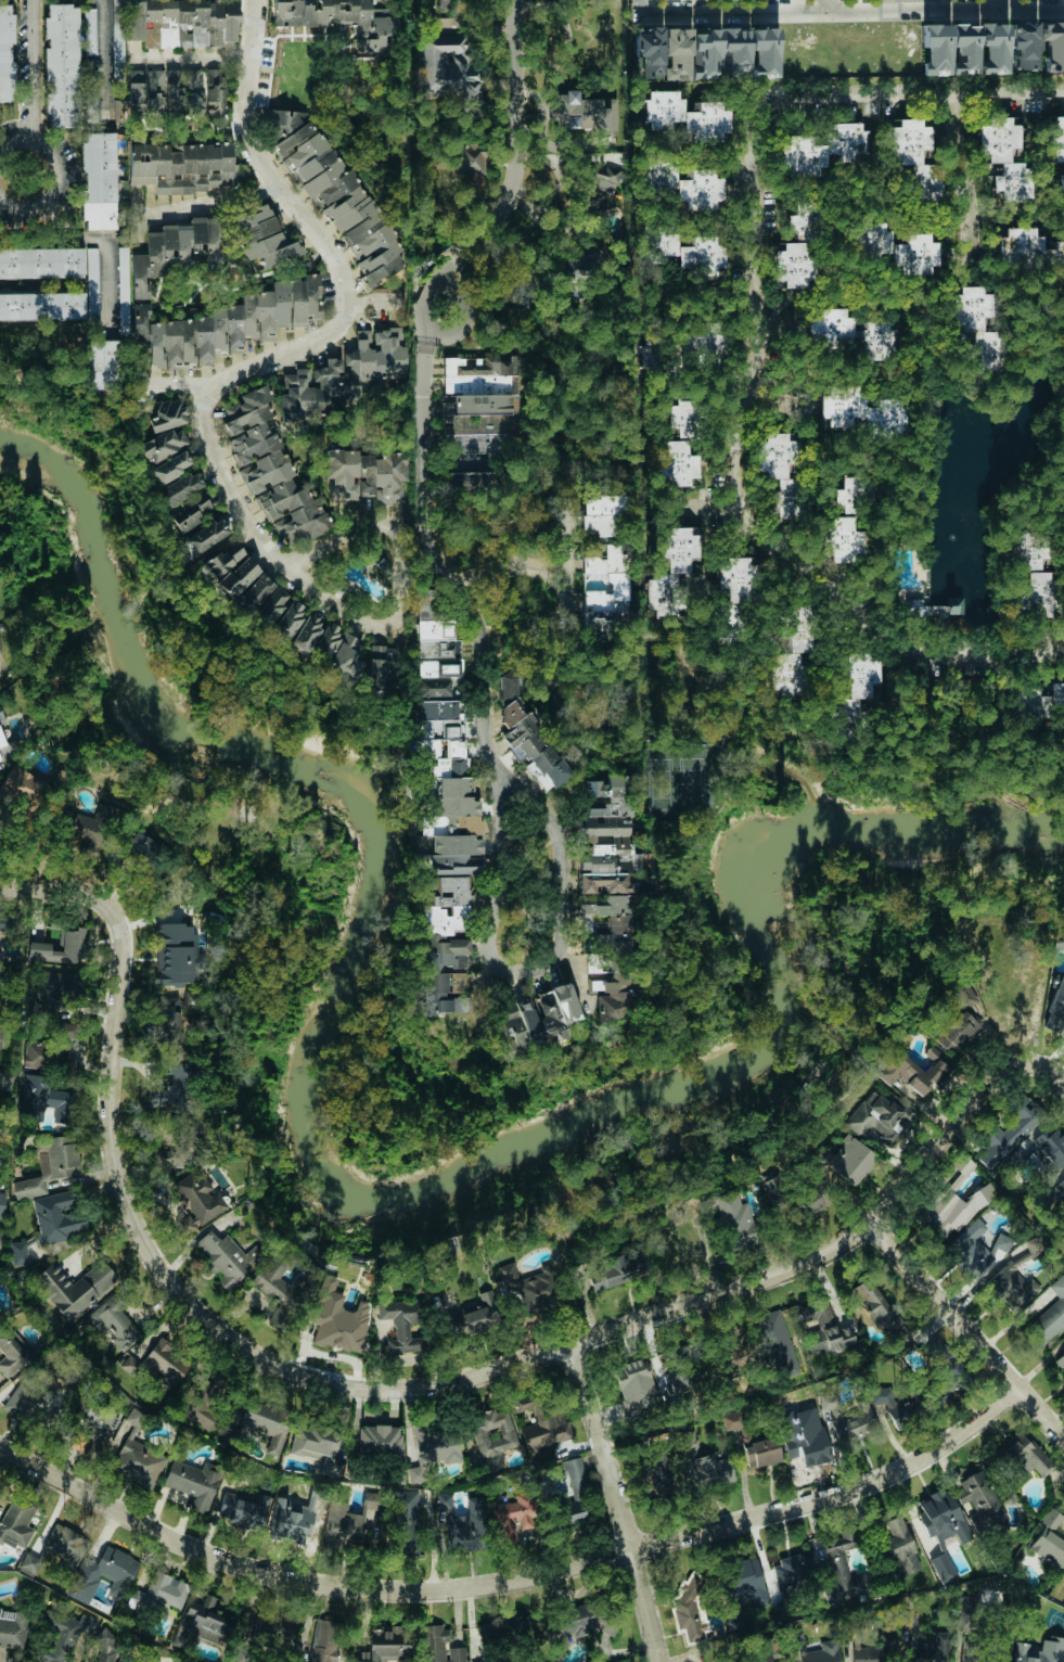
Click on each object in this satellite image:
building: (445, 3)
road: (1001, 4)
road: (887, 5)
road: (937, 5)
road: (830, 7)
road: (947, 10)
road: (729, 14)
building: (342, 21)
building: (182, 22)
building: (89, 31)
building: (117, 38)
building: (1023, 44)
building: (965, 49)
building: (706, 52)
building: (5, 53)
road: (104, 61)
road: (162, 61)
building: (61, 65)
building: (446, 69)
road: (35, 71)
building: (155, 91)
building: (136, 92)
building: (195, 92)
building: (581, 113)
building: (689, 116)
road: (516, 123)
building: (1055, 138)
building: (847, 140)
building: (803, 156)
building: (1008, 156)
building: (918, 159)
road: (758, 163)
building: (471, 165)
building: (182, 166)
road: (60, 176)
building: (608, 177)
building: (98, 180)
building: (1061, 182)
building: (684, 183)
building: (331, 184)
road: (970, 186)
building: (592, 204)
road: (203, 205)
road: (137, 220)
building: (262, 235)
road: (106, 244)
building: (1024, 244)
building: (802, 246)
building: (898, 247)
road: (467, 248)
building: (176, 251)
building: (682, 251)
building: (1057, 259)
building: (41, 261)
building: (381, 264)
road: (336, 270)
building: (91, 282)
road: (444, 286)
building: (123, 290)
road: (371, 303)
building: (41, 306)
building: (232, 324)
building: (830, 328)
building: (977, 328)
building: (706, 341)
building: (876, 341)
building: (658, 355)
building: (104, 365)
building: (343, 373)
building: (843, 406)
building: (167, 414)
building: (683, 440)
building: (163, 444)
building: (170, 466)
building: (269, 469)
building: (366, 474)
building: (783, 475)
building: (463, 480)
road: (219, 485)
building: (180, 488)
building: (857, 496)
building: (188, 512)
building: (606, 513)
building: (203, 536)
building: (843, 539)
building: (230, 568)
road: (569, 568)
building: (672, 571)
road: (540, 573)
road: (489, 574)
building: (1036, 574)
building: (605, 584)
road: (461, 586)
building: (735, 597)
building: (261, 601)
building: (925, 608)
road: (337, 609)
road: (859, 609)
building: (286, 621)
building: (305, 632)
building: (434, 638)
building: (0, 649)
building: (795, 649)
building: (335, 653)
building: (381, 668)
building: (434, 688)
building: (853, 693)
building: (1036, 699)
building: (436, 708)
building: (528, 738)
building: (5, 740)
road: (492, 767)
building: (23, 790)
building: (92, 829)
building: (608, 836)
building: (141, 849)
building: (454, 854)
building: (607, 915)
building: (63, 946)
building: (447, 953)
building: (175, 954)
building: (458, 982)
building: (51, 990)
building: (433, 993)
building: (189, 1000)
building: (1054, 1007)
building: (538, 1017)
building: (166, 1018)
building: (957, 1031)
building: (0, 1037)
building: (51, 1051)
building: (914, 1071)
building: (171, 1088)
building: (47, 1096)
building: (880, 1120)
building: (1010, 1130)
building: (1049, 1147)
building: (850, 1159)
building: (769, 1184)
building: (1060, 1187)
river: (364, 1196)
building: (954, 1199)
building: (197, 1200)
building: (806, 1200)
building: (2, 1203)
building: (1063, 1215)
building: (56, 1216)
building: (734, 1219)
building: (0, 1240)
building: (1033, 1244)
building: (975, 1248)
building: (17, 1253)
building: (227, 1257)
building: (612, 1273)
building: (74, 1287)
building: (1013, 1288)
building: (279, 1290)
building: (268, 1309)
building: (879, 1311)
building: (478, 1312)
building: (1050, 1314)
building: (117, 1319)
building: (339, 1324)
building: (402, 1324)
road: (967, 1328)
building: (823, 1329)
building: (11, 1352)
building: (1060, 1361)
building: (163, 1368)
building: (634, 1385)
road: (401, 1389)
building: (201, 1396)
building: (30, 1399)
building: (894, 1403)
building: (848, 1418)
building: (256, 1427)
building: (544, 1430)
building: (493, 1434)
building: (379, 1440)
building: (752, 1442)
building: (433, 1444)
building: (808, 1445)
building: (317, 1446)
building: (1027, 1456)
building: (705, 1461)
building: (138, 1462)
building: (193, 1482)
building: (655, 1482)
building: (567, 1490)
building: (979, 1500)
road: (620, 1501)
building: (240, 1511)
building: (407, 1511)
building: (941, 1517)
building: (346, 1520)
building: (513, 1520)
building: (16, 1523)
building: (460, 1523)
building: (1050, 1540)
building: (63, 1543)
building: (900, 1548)
building: (29, 1564)
building: (943, 1568)
building: (842, 1569)
building: (793, 1571)
building: (104, 1574)
road: (516, 1578)
building: (749, 1581)
building: (164, 1591)
building: (691, 1608)
building: (967, 1613)
building: (586, 1620)
building: (202, 1623)
building: (13, 1627)
building: (505, 1628)
building: (941, 1637)
building: (325, 1641)
building: (385, 1645)
building: (439, 1646)
building: (877, 1650)
building: (1039, 1651)
building: (823, 1653)
building: (762, 1657)
building: (150, 1659)
building: (971, 1660)
building: (992, 1660)
building: (485, 1661)

